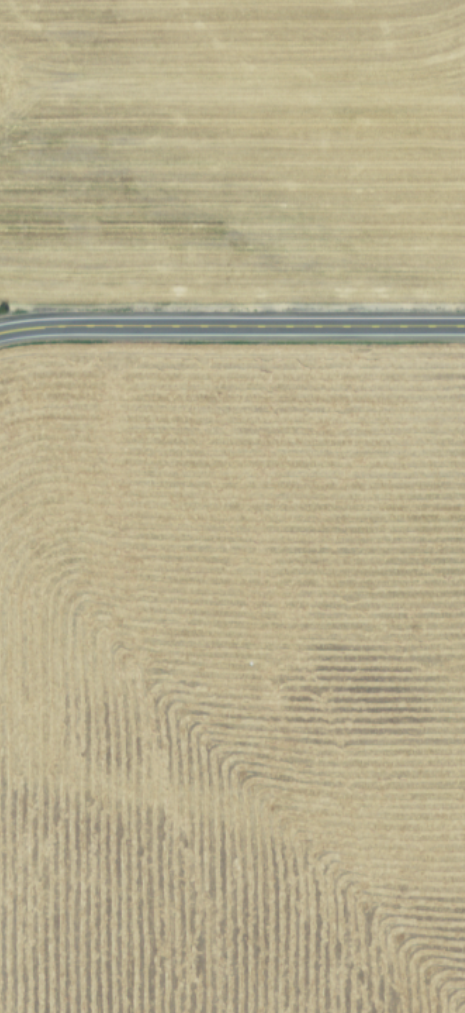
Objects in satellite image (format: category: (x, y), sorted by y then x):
road: (232, 325)
crop: (232, 506)

